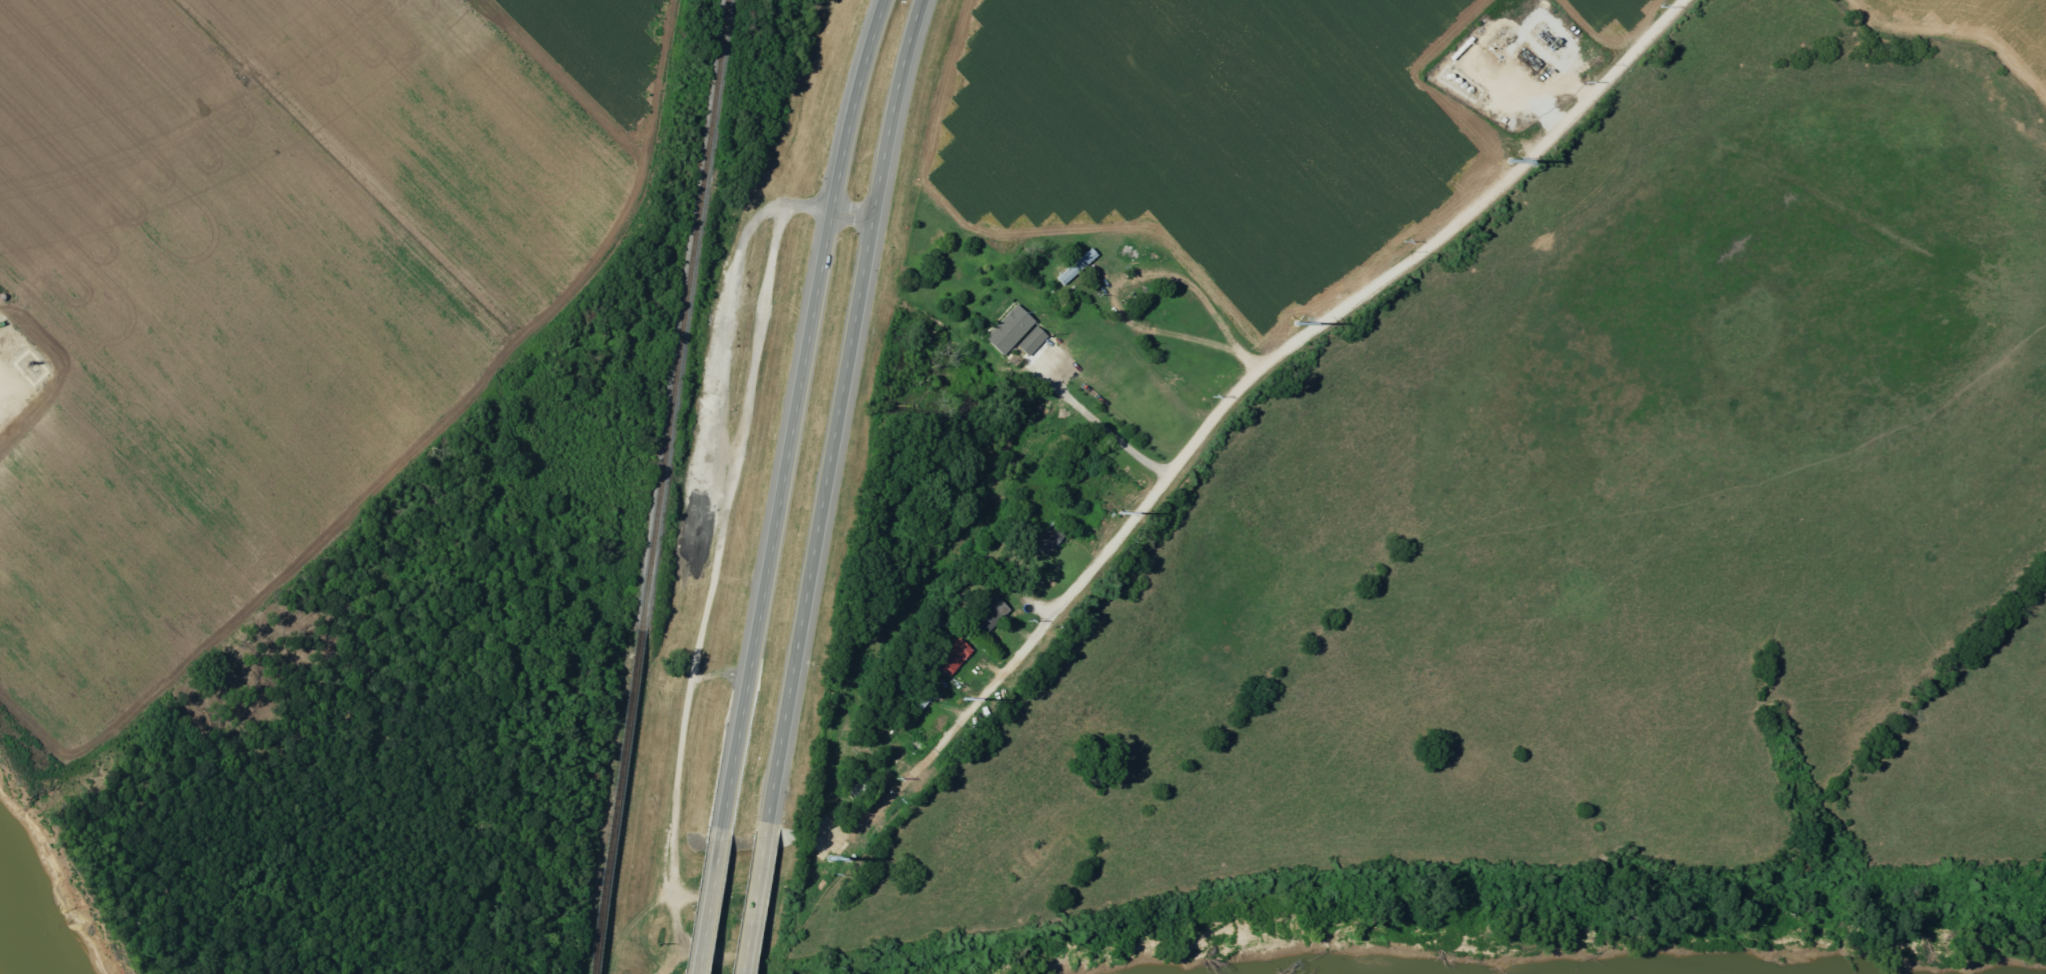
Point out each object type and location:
chimney: (1488, 47)
building: (1457, 48)
silo: (1457, 48)
chimney: (1589, 51)
petroleum well: (1532, 62)
building: (1443, 76)
silo: (1443, 76)
building: (1450, 81)
silo: (1450, 81)
building: (1458, 86)
silo: (1458, 86)
building: (1466, 91)
silo: (1466, 91)
road: (855, 210)
building: (1074, 267)
building: (1005, 330)
road: (1300, 336)
chimney: (28, 363)
chimney: (36, 372)
road: (795, 414)
road: (839, 414)
road: (1101, 423)
railway: (658, 487)
building: (952, 658)
road: (750, 902)
road: (705, 903)

